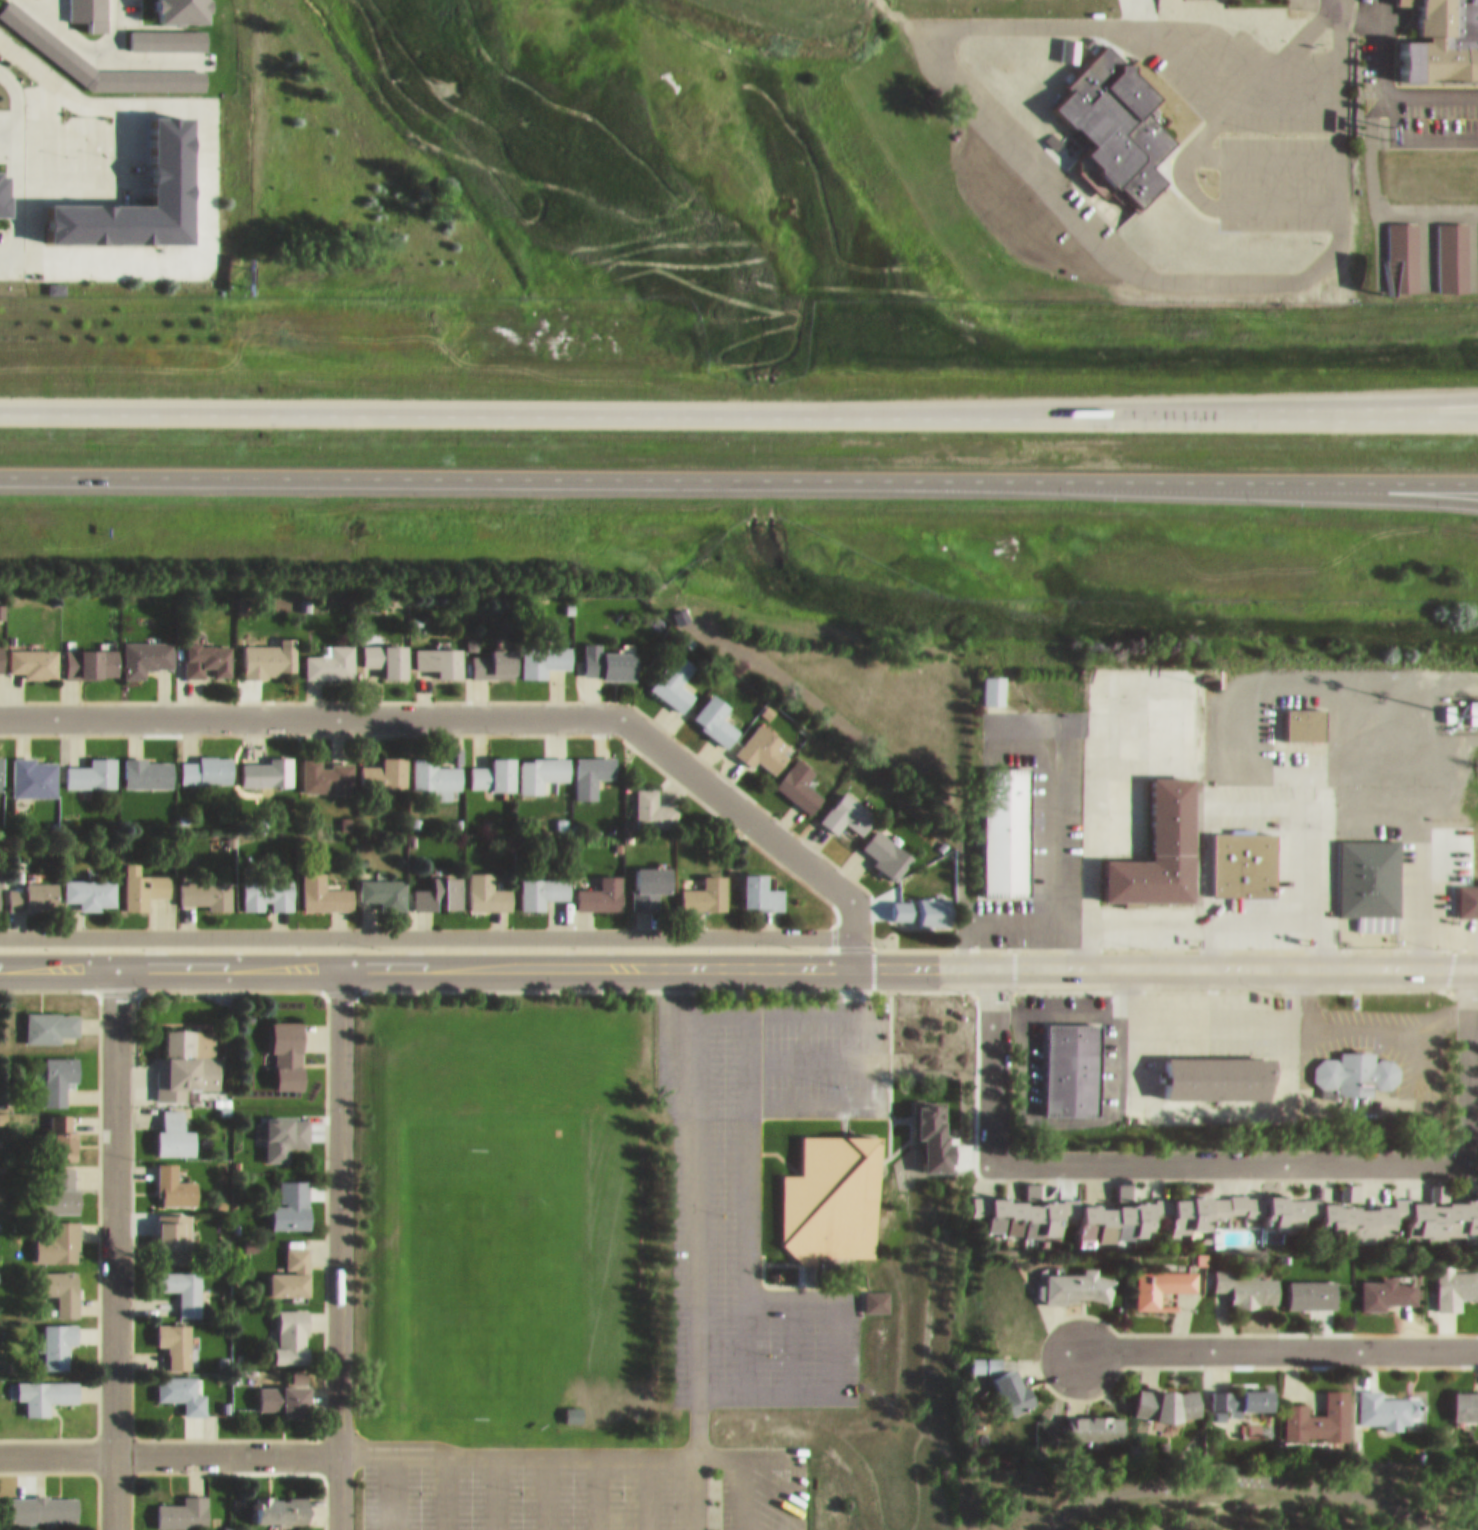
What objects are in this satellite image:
road: (1097, 15)
road: (979, 24)
building: (1441, 39)
road: (1185, 59)
road: (1388, 85)
road: (1285, 97)
parking lot: (1250, 109)
building: (1121, 113)
road: (1412, 130)
road: (1188, 139)
road: (1261, 149)
road: (1374, 192)
road: (1473, 239)
road: (1423, 240)
road: (1376, 242)
building: (1403, 249)
building: (1453, 249)
road: (1180, 273)
road: (1241, 398)
road: (739, 405)
road: (739, 467)
road: (1244, 480)
building: (146, 647)
building: (388, 648)
building: (208, 649)
building: (272, 649)
building: (2, 650)
building: (441, 650)
building: (543, 650)
building: (33, 653)
building: (92, 653)
building: (332, 653)
building: (495, 653)
building: (609, 653)
building: (675, 673)
building: (995, 680)
road: (489, 708)
building: (716, 710)
building: (1303, 714)
building: (765, 739)
building: (207, 761)
building: (145, 762)
building: (266, 762)
building: (2, 763)
building: (92, 763)
building: (385, 763)
building: (543, 764)
building: (326, 765)
building: (593, 765)
building: (495, 766)
building: (35, 768)
building: (435, 769)
building: (800, 776)
road: (1093, 792)
road: (1259, 798)
building: (654, 801)
building: (848, 805)
building: (1004, 820)
building: (1160, 840)
building: (888, 843)
road: (1052, 851)
building: (1240, 853)
road: (1305, 853)
building: (1368, 872)
building: (651, 876)
building: (0, 879)
building: (147, 879)
building: (543, 882)
building: (93, 883)
building: (384, 883)
building: (763, 883)
building: (35, 884)
building: (207, 884)
building: (325, 884)
building: (488, 884)
building: (602, 884)
building: (269, 885)
building: (440, 885)
building: (707, 885)
building: (1464, 892)
road: (1417, 895)
building: (922, 901)
road: (1198, 911)
road: (427, 928)
road: (907, 958)
road: (168, 959)
building: (52, 1018)
building: (289, 1045)
road: (868, 1050)
building: (188, 1054)
building: (1070, 1057)
building: (1343, 1061)
road: (877, 1062)
building: (1217, 1067)
building: (59, 1069)
building: (176, 1125)
building: (63, 1127)
building: (286, 1127)
road: (1229, 1156)
building: (175, 1177)
parking lot: (753, 1179)
building: (60, 1181)
building: (832, 1190)
building: (293, 1196)
building: (1298, 1201)
park: (499, 1204)
building: (1167, 1207)
building: (1026, 1209)
building: (1404, 1209)
building: (174, 1229)
building: (58, 1232)
road: (743, 1236)
road: (695, 1243)
road: (113, 1244)
road: (338, 1244)
building: (292, 1266)
park: (468, 1271)
building: (1249, 1276)
building: (1456, 1277)
building: (1077, 1279)
building: (1163, 1279)
building: (183, 1280)
building: (1392, 1283)
building: (61, 1284)
road: (763, 1285)
building: (1316, 1285)
building: (875, 1292)
building: (293, 1327)
building: (59, 1335)
building: (177, 1335)
road: (793, 1335)
road: (830, 1336)
road: (1278, 1340)
building: (1015, 1382)
building: (182, 1383)
road: (763, 1383)
building: (50, 1386)
building: (286, 1390)
building: (1245, 1391)
building: (1170, 1395)
building: (1467, 1397)
building: (1390, 1401)
building: (573, 1405)
building: (1323, 1409)
building: (1097, 1418)
road: (610, 1445)
road: (169, 1446)
road: (1238, 1469)
parking lot: (582, 1482)
road: (546, 1487)
road: (598, 1487)
road: (647, 1487)
road: (742, 1487)
road: (390, 1488)
road: (444, 1488)
road: (493, 1488)
park: (1220, 1492)
building: (43, 1499)
road: (1234, 1499)
building: (284, 1501)
building: (183, 1505)
building: (52, 1528)
building: (170, 1528)

